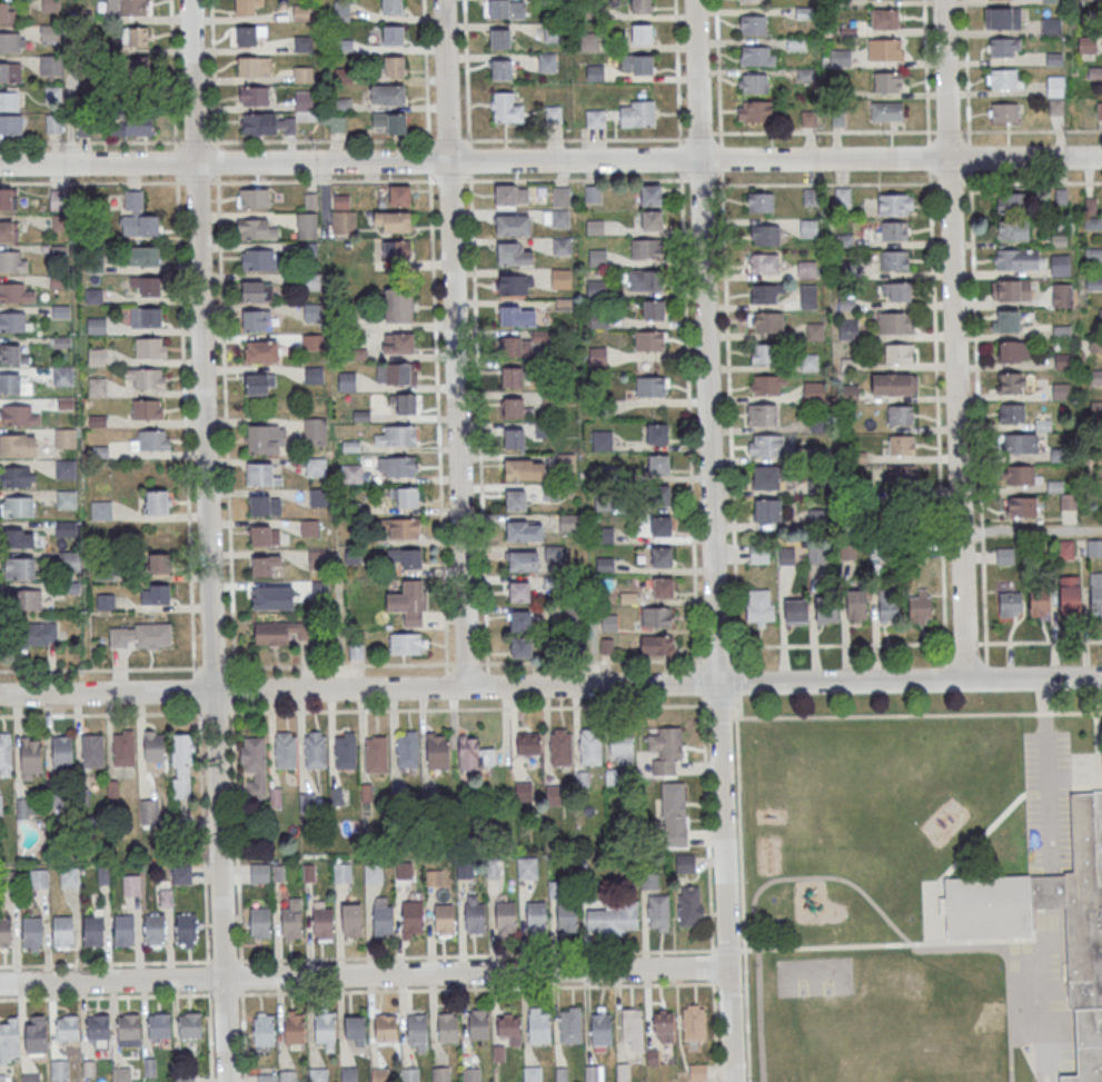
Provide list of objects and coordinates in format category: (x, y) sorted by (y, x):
building: (1051, 0)
building: (751, 1)
building: (641, 6)
building: (128, 7)
building: (246, 7)
building: (391, 7)
building: (506, 9)
building: (6, 11)
building: (340, 11)
building: (884, 18)
building: (1003, 18)
building: (753, 23)
building: (1051, 26)
building: (49, 32)
building: (553, 32)
building: (642, 33)
building: (249, 34)
building: (393, 34)
building: (138, 36)
building: (500, 38)
building: (11, 41)
building: (589, 41)
building: (1003, 47)
building: (885, 49)
building: (757, 54)
building: (840, 57)
building: (546, 62)
building: (638, 63)
building: (50, 64)
building: (254, 66)
building: (394, 66)
building: (138, 68)
building: (500, 69)
road: (925, 70)
building: (9, 71)
road: (676, 71)
road: (965, 71)
road: (425, 72)
road: (466, 72)
building: (595, 72)
road: (717, 72)
road: (172, 73)
road: (212, 73)
building: (302, 75)
building: (1002, 78)
building: (887, 81)
building: (752, 82)
building: (52, 92)
building: (394, 93)
building: (1055, 93)
building: (252, 95)
building: (9, 100)
building: (505, 108)
building: (754, 110)
building: (1099, 110)
building: (886, 111)
building: (1003, 112)
building: (553, 113)
building: (636, 113)
building: (595, 118)
building: (390, 121)
building: (10, 123)
building: (53, 123)
building: (268, 123)
building: (336, 123)
building: (130, 125)
road: (1030, 129)
road: (947, 130)
road: (823, 131)
road: (698, 135)
road: (574, 138)
road: (448, 139)
road: (196, 140)
road: (321, 140)
road: (91, 141)
road: (929, 156)
road: (969, 156)
road: (428, 159)
road: (681, 159)
road: (721, 159)
road: (469, 160)
road: (176, 161)
road: (216, 161)
road: (550, 161)
road: (550, 179)
building: (512, 193)
building: (651, 195)
building: (399, 196)
building: (559, 196)
building: (1061, 197)
building: (8, 198)
building: (254, 198)
building: (760, 201)
building: (1012, 201)
building: (895, 204)
building: (140, 212)
building: (559, 218)
building: (652, 220)
building: (391, 221)
building: (344, 222)
building: (513, 224)
building: (306, 225)
building: (256, 228)
building: (807, 228)
building: (9, 230)
building: (892, 230)
building: (1012, 230)
building: (763, 235)
building: (560, 246)
building: (645, 248)
building: (396, 249)
building: (513, 254)
building: (143, 255)
building: (258, 259)
building: (1016, 259)
building: (12, 260)
building: (894, 260)
building: (764, 262)
building: (1060, 265)
building: (806, 269)
building: (560, 278)
building: (645, 280)
building: (146, 285)
building: (514, 285)
building: (256, 290)
building: (1010, 290)
building: (896, 291)
building: (17, 292)
building: (766, 292)
building: (807, 296)
building: (1061, 296)
building: (397, 306)
building: (653, 310)
building: (517, 316)
building: (146, 317)
building: (256, 320)
building: (1005, 320)
building: (14, 321)
building: (766, 321)
building: (894, 322)
building: (848, 330)
building: (813, 331)
road: (953, 339)
building: (648, 340)
building: (310, 341)
building: (397, 344)
road: (454, 344)
building: (516, 346)
road: (975, 347)
building: (149, 348)
building: (261, 351)
building: (1013, 351)
building: (762, 353)
building: (899, 354)
building: (12, 355)
building: (62, 375)
building: (312, 375)
building: (395, 375)
building: (512, 376)
building: (143, 379)
building: (347, 381)
building: (1011, 383)
building: (13, 384)
building: (259, 384)
building: (767, 384)
building: (894, 384)
building: (651, 386)
building: (1061, 390)
building: (405, 405)
building: (515, 407)
building: (147, 410)
building: (1011, 413)
building: (762, 414)
building: (19, 415)
building: (900, 415)
road: (936, 417)
road: (729, 420)
road: (689, 421)
road: (438, 423)
road: (478, 423)
road: (225, 424)
road: (185, 426)
building: (315, 430)
building: (542, 433)
building: (657, 433)
building: (64, 437)
building: (395, 437)
building: (514, 438)
building: (602, 439)
building: (260, 440)
building: (151, 441)
building: (1016, 443)
building: (17, 445)
building: (765, 445)
building: (899, 455)
building: (658, 464)
building: (316, 466)
building: (66, 468)
building: (395, 468)
building: (524, 468)
building: (262, 475)
building: (351, 475)
building: (1017, 475)
building: (16, 476)
building: (767, 477)
building: (656, 495)
building: (317, 497)
building: (66, 498)
building: (406, 498)
building: (515, 499)
building: (1068, 500)
building: (156, 503)
building: (265, 504)
building: (1021, 505)
building: (18, 506)
building: (101, 509)
building: (767, 510)
building: (567, 523)
building: (661, 526)
building: (66, 529)
building: (398, 529)
road: (1031, 529)
building: (524, 530)
road: (982, 532)
building: (604, 534)
building: (264, 535)
building: (23, 538)
road: (207, 540)
road: (709, 540)
building: (1095, 548)
building: (1065, 549)
building: (554, 553)
building: (815, 554)
building: (662, 556)
building: (404, 558)
building: (69, 559)
building: (523, 560)
building: (159, 563)
building: (604, 564)
building: (264, 565)
building: (19, 567)
building: (663, 586)
building: (519, 590)
building: (1096, 592)
building: (155, 594)
building: (1070, 594)
building: (22, 599)
building: (1040, 600)
building: (105, 602)
road: (983, 602)
building: (408, 603)
building: (1011, 604)
building: (858, 606)
building: (920, 606)
building: (760, 607)
building: (888, 607)
building: (827, 611)
building: (796, 612)
building: (573, 614)
building: (656, 616)
building: (523, 621)
building: (281, 632)
building: (34, 634)
building: (140, 635)
road: (1039, 641)
building: (407, 643)
road: (965, 643)
road: (841, 644)
building: (656, 645)
building: (520, 646)
road: (716, 652)
road: (592, 662)
road: (466, 663)
road: (340, 665)
road: (214, 667)
road: (100, 669)
road: (986, 672)
road: (945, 673)
road: (446, 679)
road: (488, 679)
road: (701, 682)
road: (737, 682)
road: (550, 686)
road: (195, 689)
road: (231, 689)
road: (721, 704)
road: (735, 704)
road: (467, 708)
road: (215, 712)
road: (101, 714)
road: (909, 715)
road: (1098, 731)
building: (528, 744)
building: (560, 746)
building: (589, 746)
building: (153, 747)
building: (122, 748)
building: (621, 748)
building: (406, 750)
building: (665, 750)
building: (61, 751)
building: (91, 751)
building: (285, 751)
building: (315, 751)
building: (345, 751)
building: (437, 752)
building: (4, 754)
building: (376, 755)
building: (474, 755)
building: (30, 757)
building: (254, 766)
building: (181, 767)
road: (1046, 775)
road: (1074, 785)
building: (523, 792)
road: (1036, 795)
parking lot: (1048, 803)
building: (149, 813)
building: (674, 814)
road: (707, 825)
road: (201, 833)
road: (236, 833)
road: (960, 861)
building: (685, 863)
building: (527, 867)
building: (464, 870)
building: (492, 870)
building: (341, 873)
building: (373, 874)
building: (181, 875)
building: (69, 876)
building: (433, 877)
building: (38, 878)
road: (821, 878)
building: (131, 885)
road: (743, 890)
road: (1050, 892)
building: (689, 906)
building: (657, 912)
building: (537, 915)
building: (414, 916)
building: (506, 916)
building: (567, 916)
building: (353, 917)
building: (475, 917)
building: (612, 917)
building: (445, 920)
building: (384, 921)
building: (260, 922)
building: (291, 922)
building: (324, 923)
building: (187, 927)
building: (989, 927)
building: (155, 929)
building: (63, 930)
building: (93, 930)
building: (125, 930)
building: (32, 931)
building: (6, 932)
road: (1043, 941)
road: (888, 945)
road: (983, 949)
road: (728, 951)
road: (477, 955)
road: (224, 960)
road: (103, 962)
road: (715, 969)
road: (363, 974)
road: (241, 976)
park: (815, 976)
road: (208, 977)
road: (476, 989)
road: (224, 993)
road: (105, 995)
parking lot: (1044, 995)
road: (1051, 996)
road: (1011, 1012)
road: (760, 1016)
building: (478, 1023)
building: (190, 1024)
building: (633, 1024)
building: (694, 1024)
building: (538, 1025)
building: (663, 1025)
building: (99, 1026)
building: (160, 1026)
building: (326, 1026)
building: (356, 1026)
building: (509, 1026)
building: (570, 1026)
building: (69, 1028)
building: (295, 1028)
building: (448, 1028)
building: (386, 1029)
building: (603, 1029)
building: (129, 1030)
building: (265, 1030)
building: (418, 1030)
road: (716, 1032)
road: (209, 1036)
road: (244, 1036)
building: (36, 1038)
building: (9, 1039)
building: (653, 1058)
building: (150, 1066)
building: (60, 1069)
building: (89, 1069)
building: (623, 1071)
building: (698, 1072)
building: (562, 1073)
building: (594, 1073)
building: (122, 1074)
building: (319, 1074)
building: (349, 1074)
building: (378, 1074)
building: (410, 1074)
building: (440, 1074)
building: (471, 1074)
building: (533, 1074)
building: (288, 1075)
building: (2, 1078)
building: (31, 1078)
building: (186, 1078)
building: (268, 1078)

